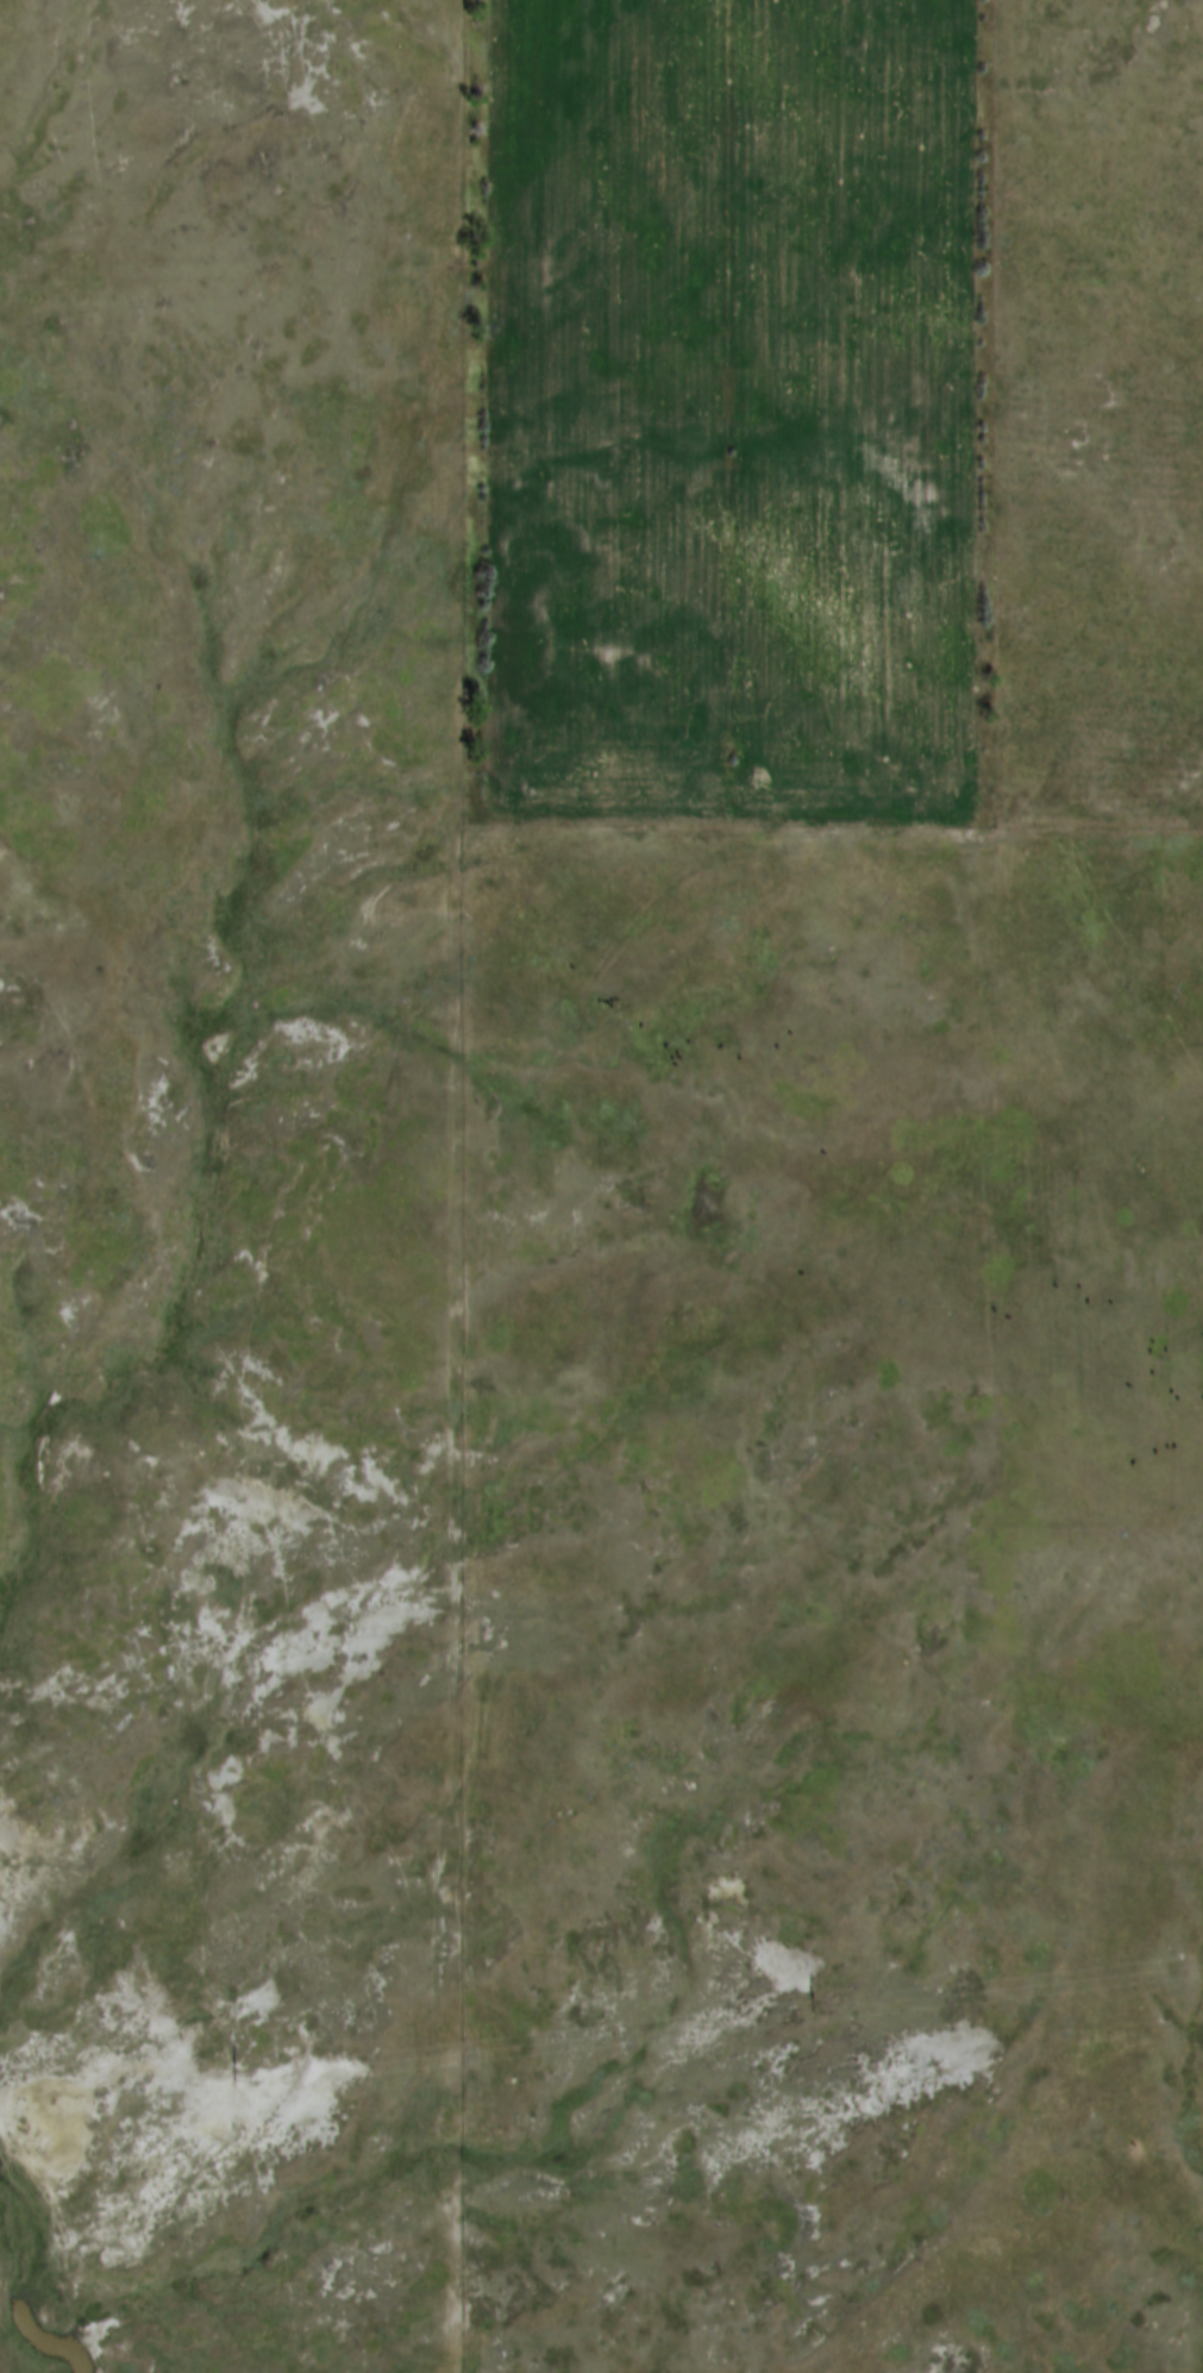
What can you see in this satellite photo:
power tower: (812, 2005)
power tower: (248, 2074)

